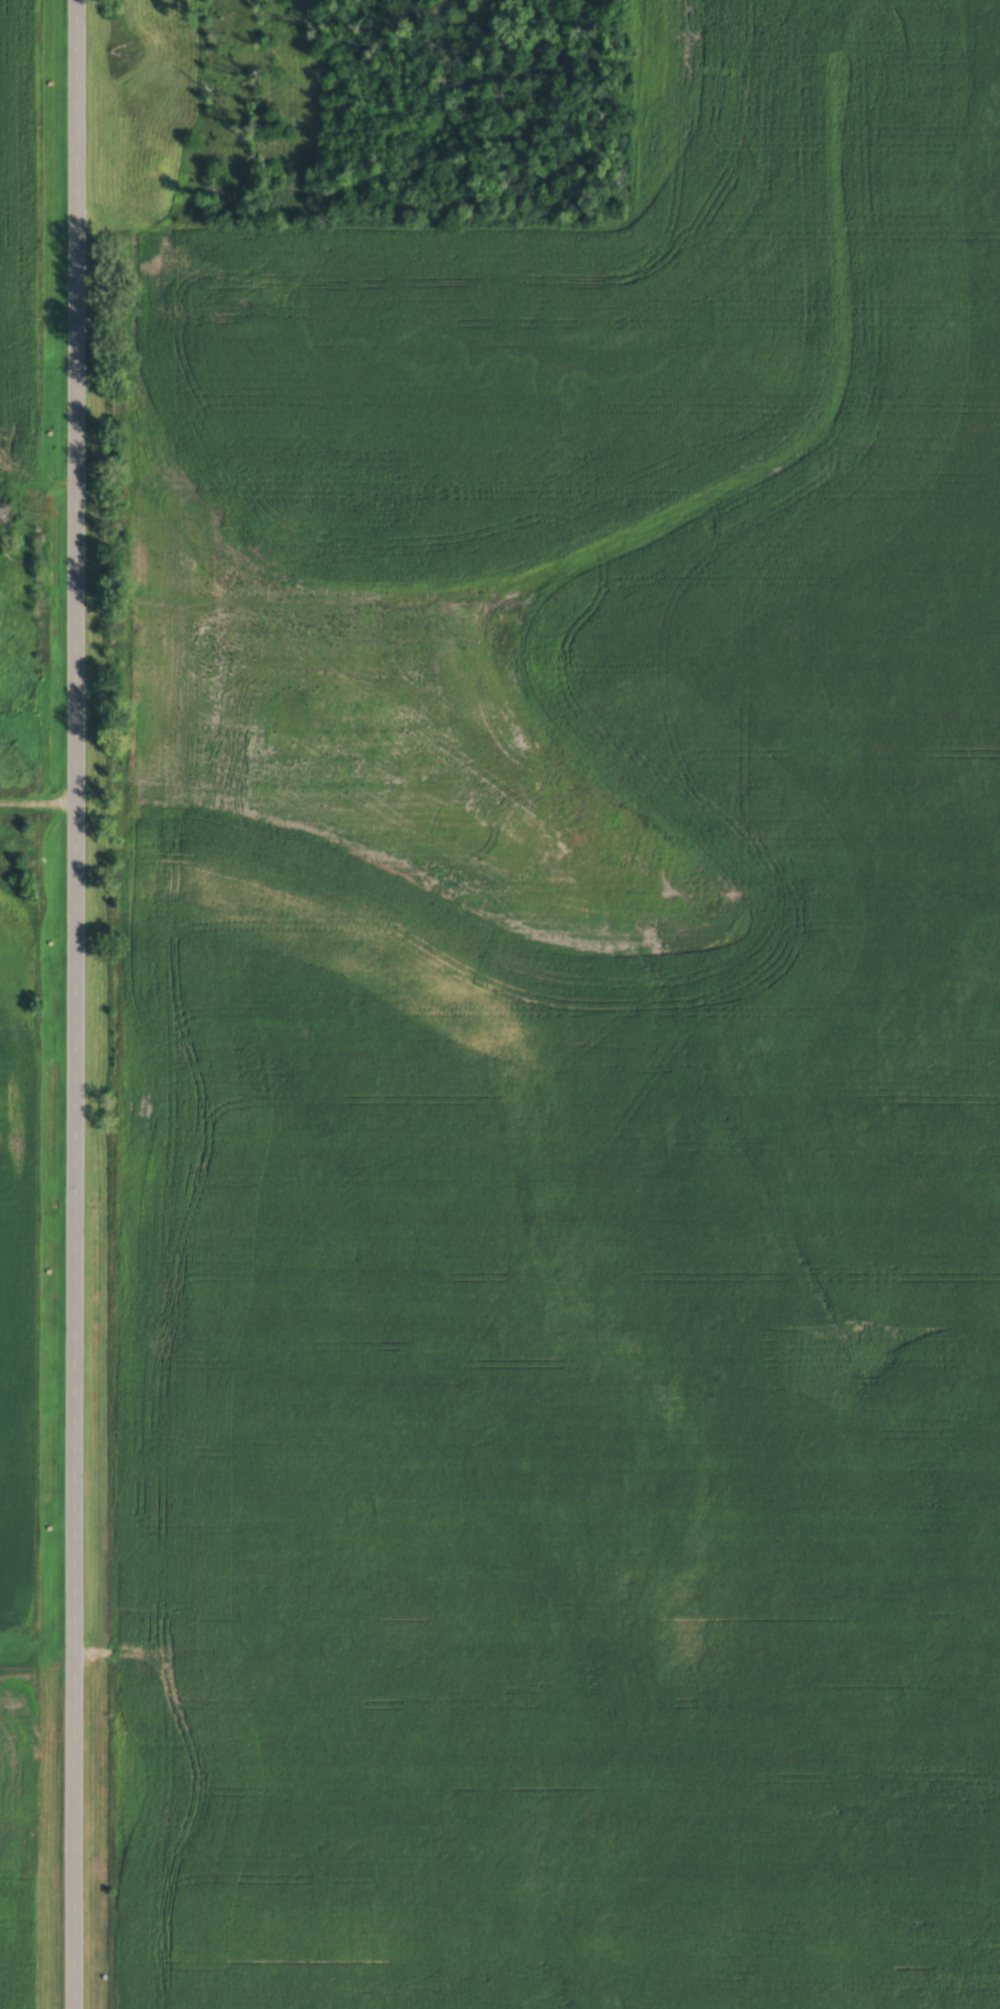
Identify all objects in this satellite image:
river: (846, 406)
road: (31, 788)
river: (636, 868)
road: (75, 1004)

